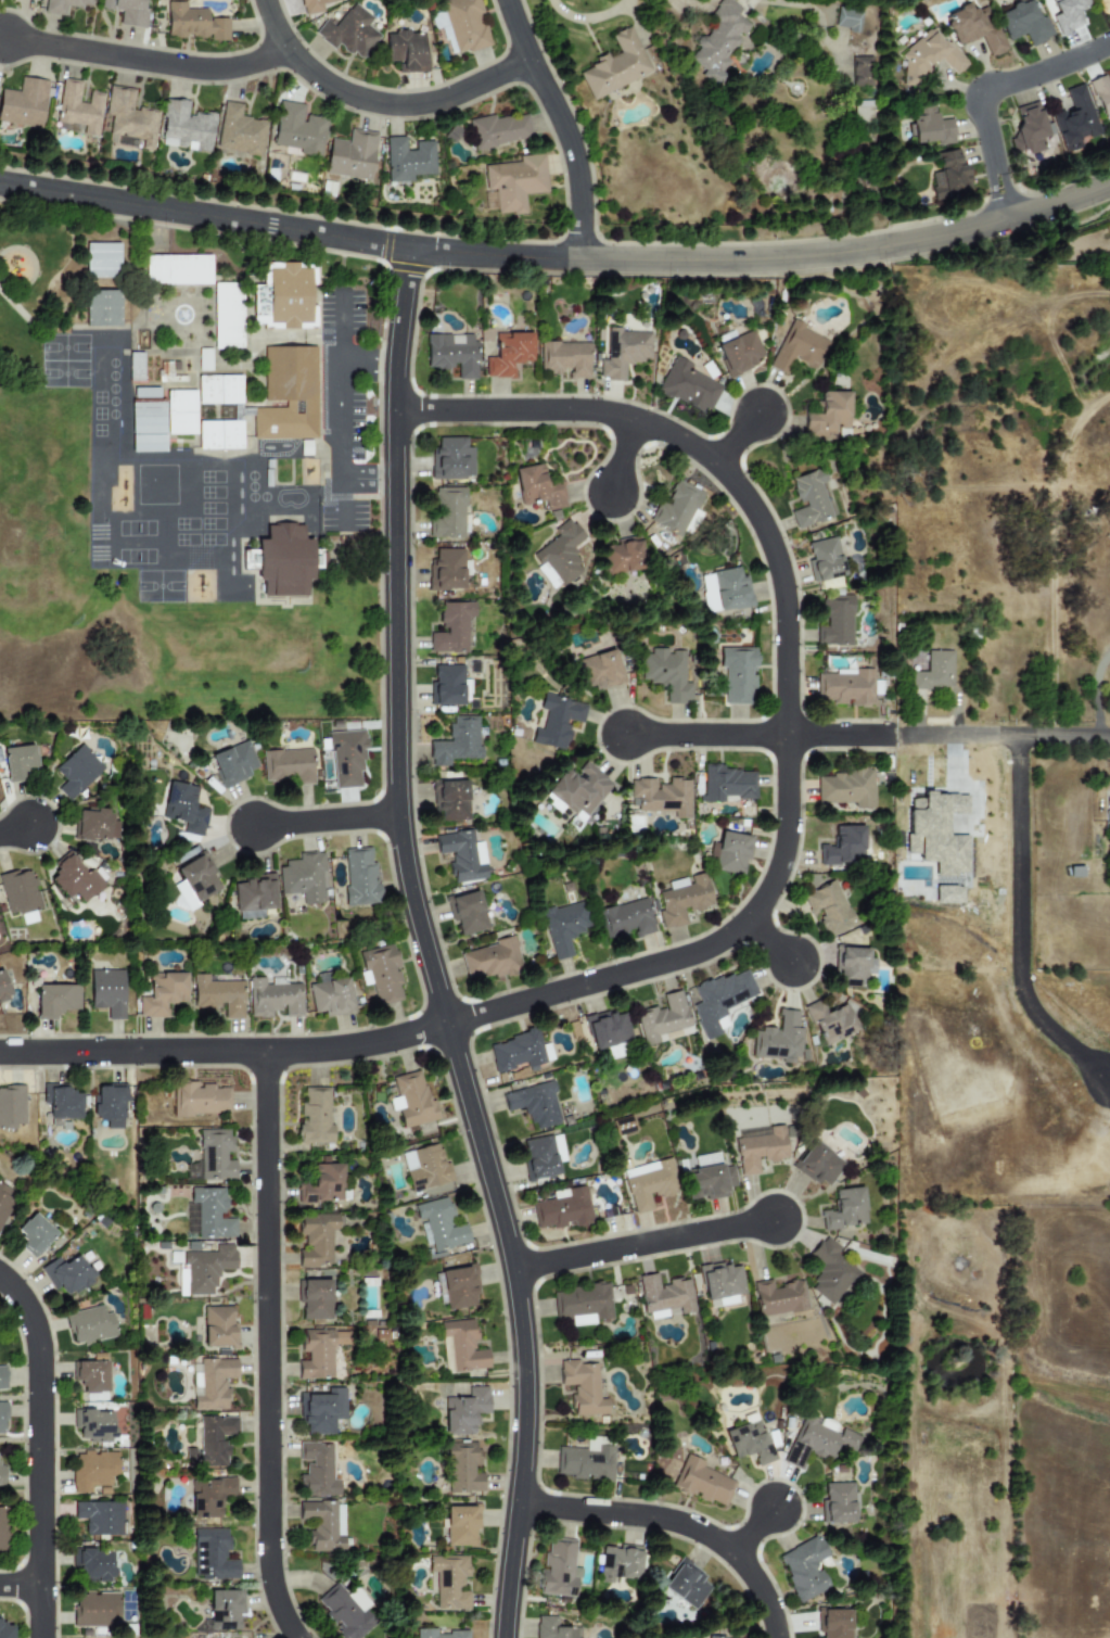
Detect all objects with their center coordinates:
building: (63, 5)
building: (312, 5)
building: (1105, 5)
building: (126, 11)
building: (1068, 14)
building: (847, 20)
building: (1023, 23)
building: (194, 24)
building: (465, 25)
building: (443, 29)
building: (973, 29)
building: (349, 33)
building: (718, 42)
building: (406, 51)
building: (928, 56)
road: (145, 61)
building: (615, 66)
building: (859, 73)
street lamp: (558, 79)
road: (980, 89)
building: (1101, 96)
building: (23, 103)
road: (377, 103)
building: (77, 109)
building: (862, 112)
building: (128, 119)
building: (1075, 120)
road: (562, 124)
building: (184, 127)
building: (929, 127)
building: (297, 129)
building: (1028, 129)
building: (498, 130)
building: (239, 131)
building: (350, 155)
building: (407, 160)
building: (948, 176)
building: (512, 183)
road: (204, 216)
building: (103, 252)
road: (849, 252)
road: (494, 255)
building: (160, 266)
building: (181, 266)
building: (203, 267)
building: (103, 269)
building: (229, 291)
building: (288, 296)
building: (104, 306)
building: (229, 313)
building: (229, 333)
building: (798, 348)
building: (623, 352)
building: (738, 353)
building: (451, 354)
building: (508, 354)
building: (564, 358)
road: (367, 363)
building: (135, 367)
road: (339, 384)
building: (688, 385)
building: (210, 388)
building: (231, 388)
building: (291, 393)
building: (181, 403)
building: (150, 407)
building: (827, 416)
building: (181, 423)
building: (150, 426)
building: (212, 432)
building: (232, 432)
road: (736, 439)
building: (150, 443)
road: (622, 456)
building: (451, 458)
park: (66, 469)
road: (342, 482)
building: (538, 487)
building: (809, 498)
building: (676, 508)
building: (447, 513)
street lamp: (787, 542)
building: (559, 556)
building: (621, 557)
building: (285, 558)
building: (825, 559)
building: (446, 569)
building: (725, 591)
building: (835, 622)
building: (450, 628)
building: (598, 670)
building: (931, 672)
building: (665, 673)
building: (737, 674)
building: (447, 685)
building: (844, 687)
street lamp: (414, 716)
street lamp: (700, 718)
building: (556, 720)
road: (704, 735)
road: (837, 735)
road: (891, 735)
road: (896, 735)
road: (1004, 735)
building: (457, 741)
building: (346, 759)
building: (17, 761)
building: (232, 764)
building: (288, 765)
building: (77, 772)
building: (727, 784)
building: (845, 788)
building: (578, 790)
building: (661, 796)
building: (450, 800)
building: (183, 808)
road: (326, 821)
building: (95, 824)
road: (14, 829)
building: (936, 833)
building: (843, 847)
road: (1017, 852)
building: (728, 853)
building: (462, 855)
building: (359, 876)
building: (303, 877)
building: (74, 880)
building: (194, 881)
building: (18, 892)
building: (947, 893)
building: (253, 897)
building: (682, 899)
road: (762, 899)
building: (829, 909)
building: (467, 913)
building: (626, 918)
building: (563, 927)
road: (768, 940)
road: (424, 948)
building: (490, 960)
building: (853, 966)
building: (381, 974)
building: (2, 988)
building: (107, 992)
building: (162, 994)
building: (218, 995)
building: (330, 995)
building: (273, 999)
building: (719, 999)
building: (55, 1000)
building: (663, 1020)
building: (830, 1023)
building: (608, 1029)
building: (778, 1039)
building: (519, 1052)
building: (200, 1100)
building: (411, 1101)
building: (61, 1103)
building: (534, 1104)
building: (110, 1105)
building: (12, 1107)
building: (315, 1116)
street lamp: (457, 1132)
building: (558, 1148)
building: (758, 1148)
building: (213, 1156)
building: (538, 1157)
building: (817, 1164)
building: (424, 1167)
building: (709, 1182)
building: (649, 1184)
building: (322, 1185)
building: (4, 1201)
building: (562, 1209)
building: (845, 1209)
building: (207, 1214)
building: (439, 1224)
building: (34, 1234)
building: (316, 1240)
road: (642, 1244)
building: (206, 1268)
building: (831, 1272)
building: (66, 1274)
street lamp: (26, 1277)
building: (720, 1283)
building: (459, 1286)
building: (664, 1294)
building: (778, 1298)
building: (315, 1299)
building: (583, 1304)
building: (89, 1325)
building: (218, 1326)
road: (266, 1347)
building: (461, 1347)
building: (319, 1353)
building: (91, 1376)
building: (2, 1377)
building: (210, 1383)
building: (582, 1387)
building: (322, 1411)
building: (464, 1411)
building: (2, 1418)
building: (93, 1425)
building: (212, 1442)
building: (750, 1442)
building: (816, 1442)
road: (39, 1451)
building: (586, 1461)
building: (462, 1468)
building: (93, 1471)
building: (317, 1471)
building: (2, 1475)
building: (702, 1482)
building: (209, 1496)
street lamp: (652, 1500)
building: (839, 1502)
building: (101, 1516)
road: (676, 1522)
building: (323, 1525)
building: (461, 1525)
building: (2, 1529)
road: (752, 1531)
building: (212, 1554)
building: (94, 1565)
building: (618, 1565)
building: (558, 1567)
building: (804, 1569)
building: (449, 1582)
building: (686, 1584)
road: (20, 1585)
building: (225, 1609)
building: (97, 1610)
building: (342, 1612)
building: (833, 1623)
building: (553, 1628)
building: (5, 1630)
building: (438, 1634)
building: (712, 1637)

